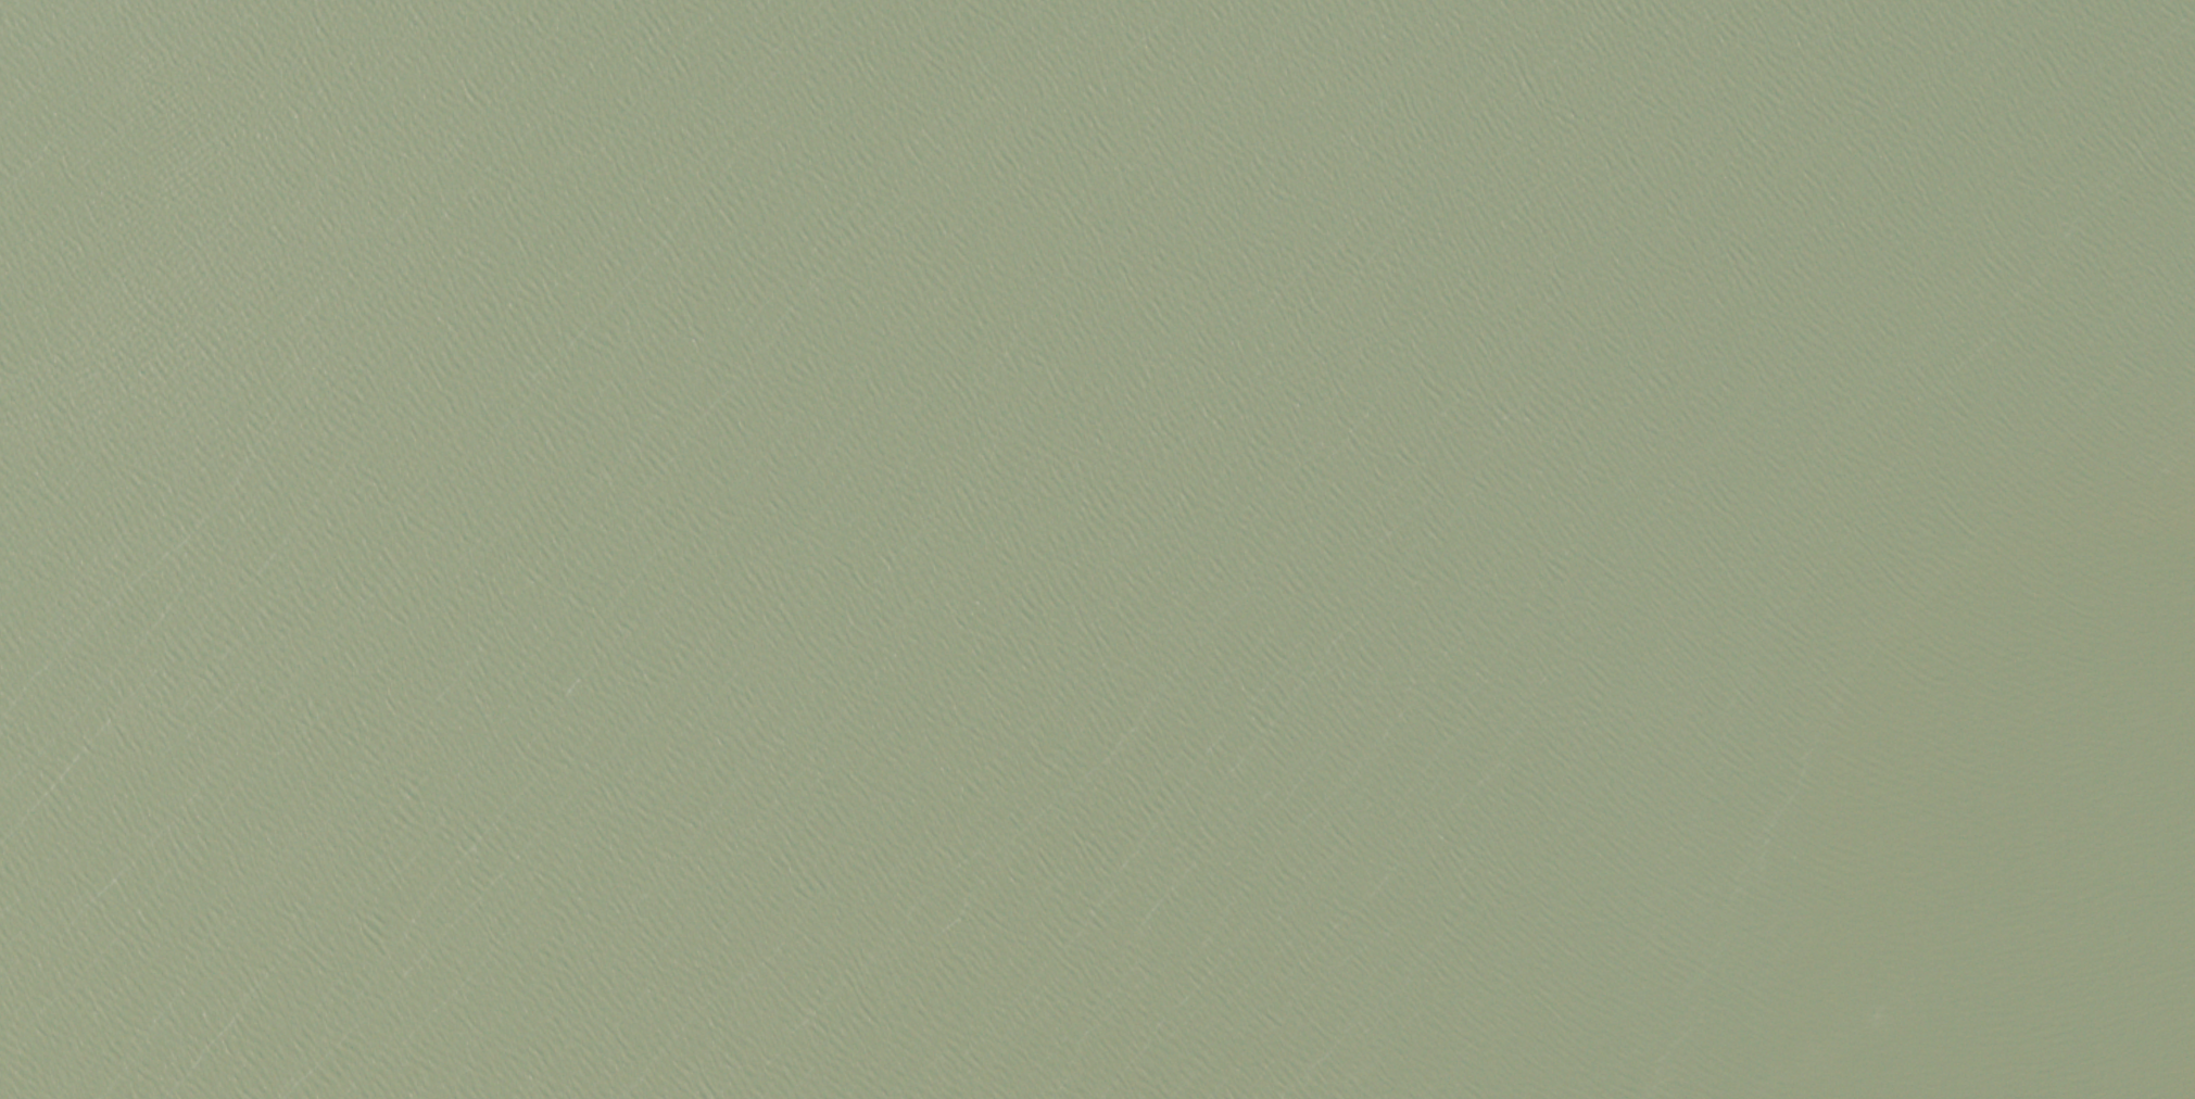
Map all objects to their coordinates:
river: (172, 244)

